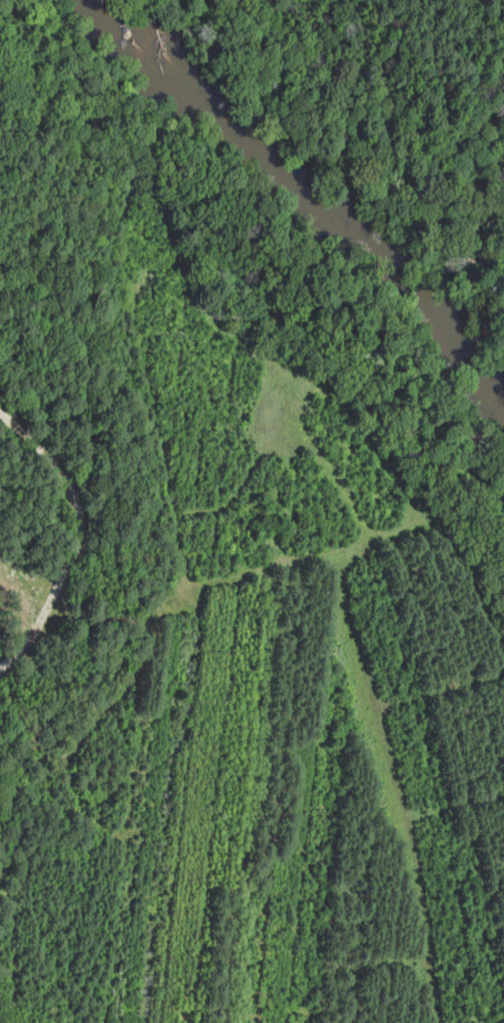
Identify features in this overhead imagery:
river: (250, 141)
river: (458, 350)

